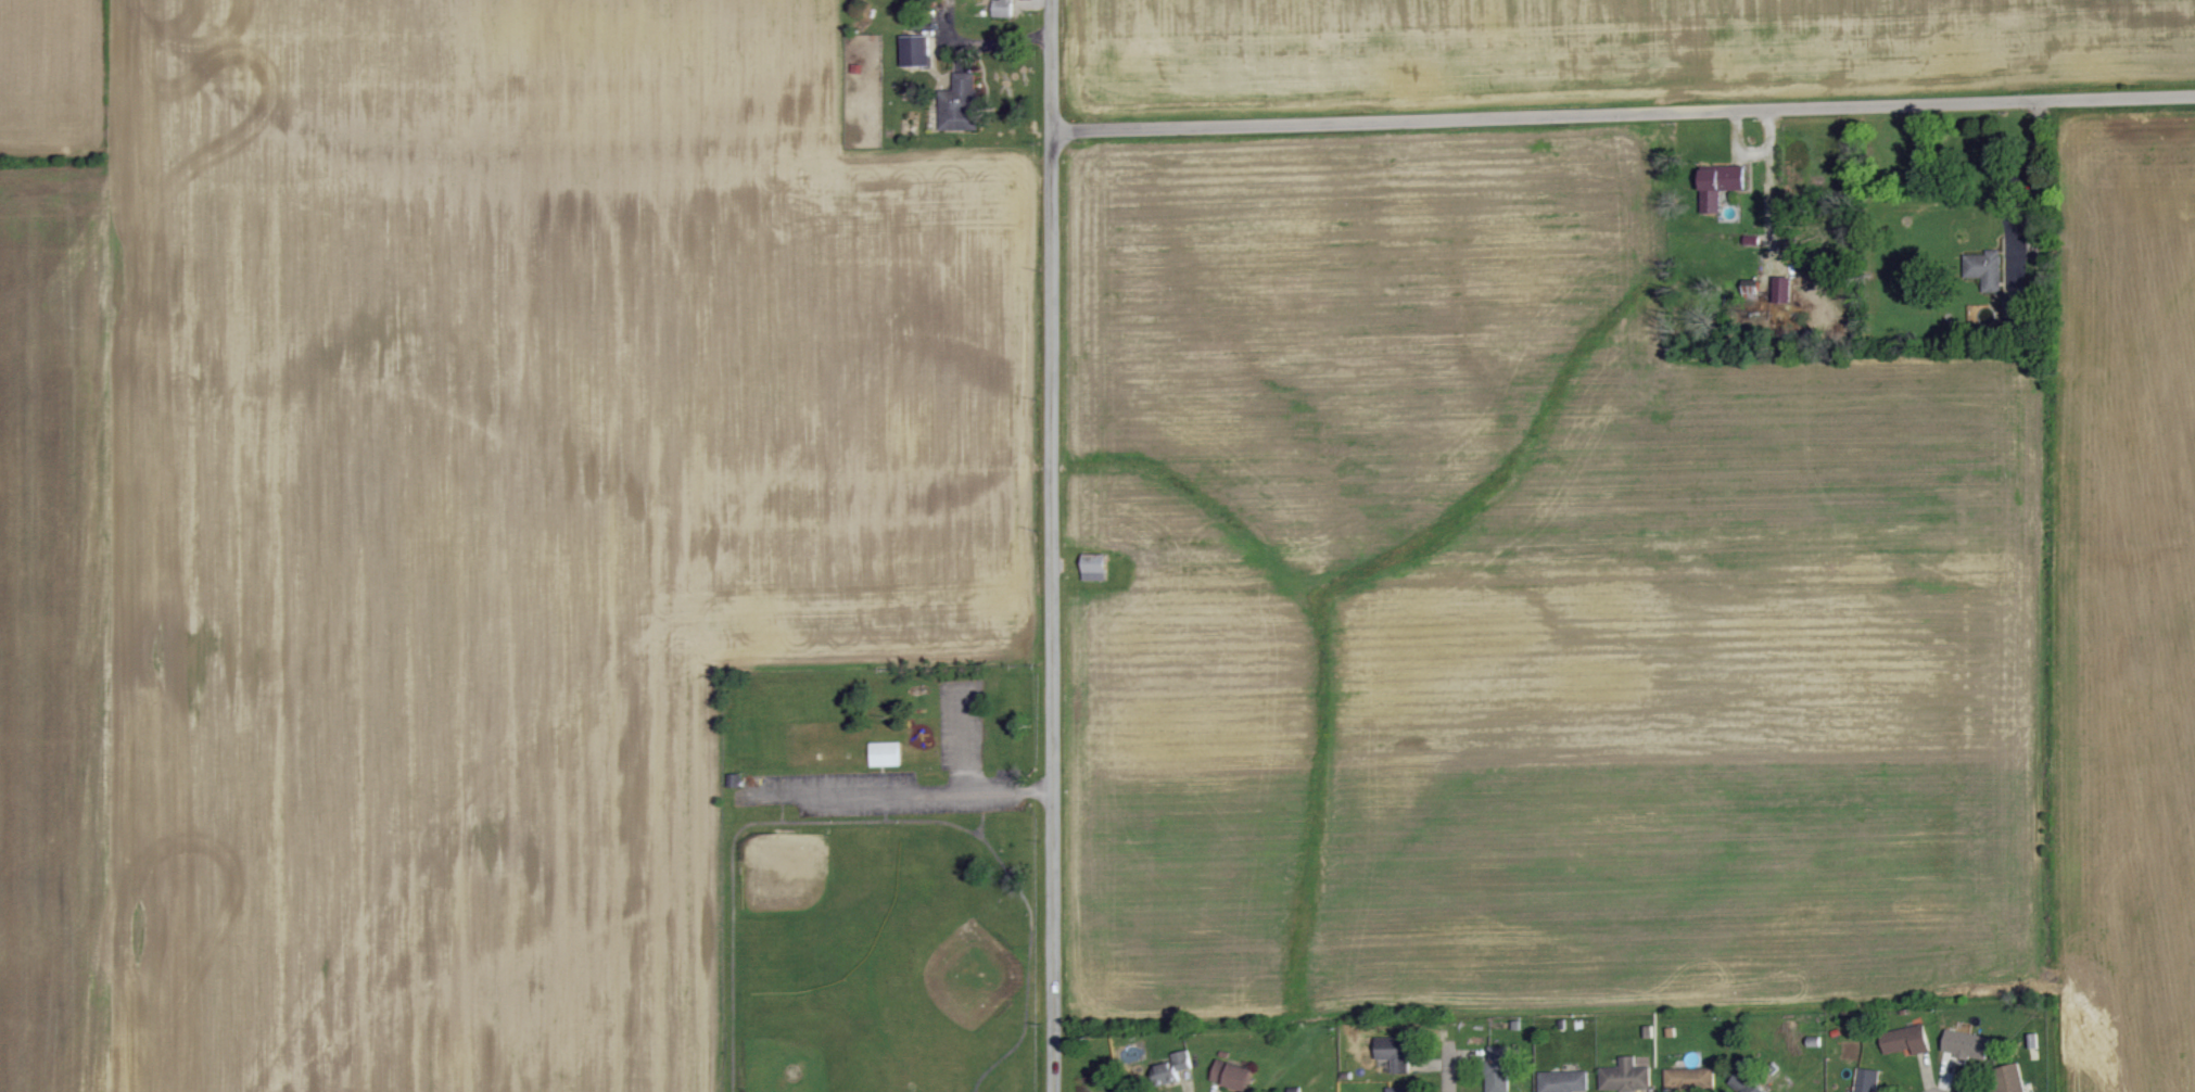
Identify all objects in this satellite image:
building: (1003, 8)
building: (916, 49)
road: (1052, 63)
building: (960, 103)
road: (1624, 110)
road: (2015, 173)
building: (1721, 185)
building: (1987, 269)
building: (1784, 289)
building: (1095, 567)
road: (1055, 609)
building: (886, 753)
road: (942, 789)
park: (880, 873)
building: (1907, 1040)
building: (1968, 1045)
building: (1395, 1053)
road: (1451, 1066)
building: (1172, 1068)
building: (1498, 1069)
building: (1232, 1075)
building: (1626, 1077)
building: (1690, 1078)
building: (2008, 1079)
building: (1867, 1080)
building: (1564, 1081)
building: (1747, 1082)
building: (1398, 1089)

